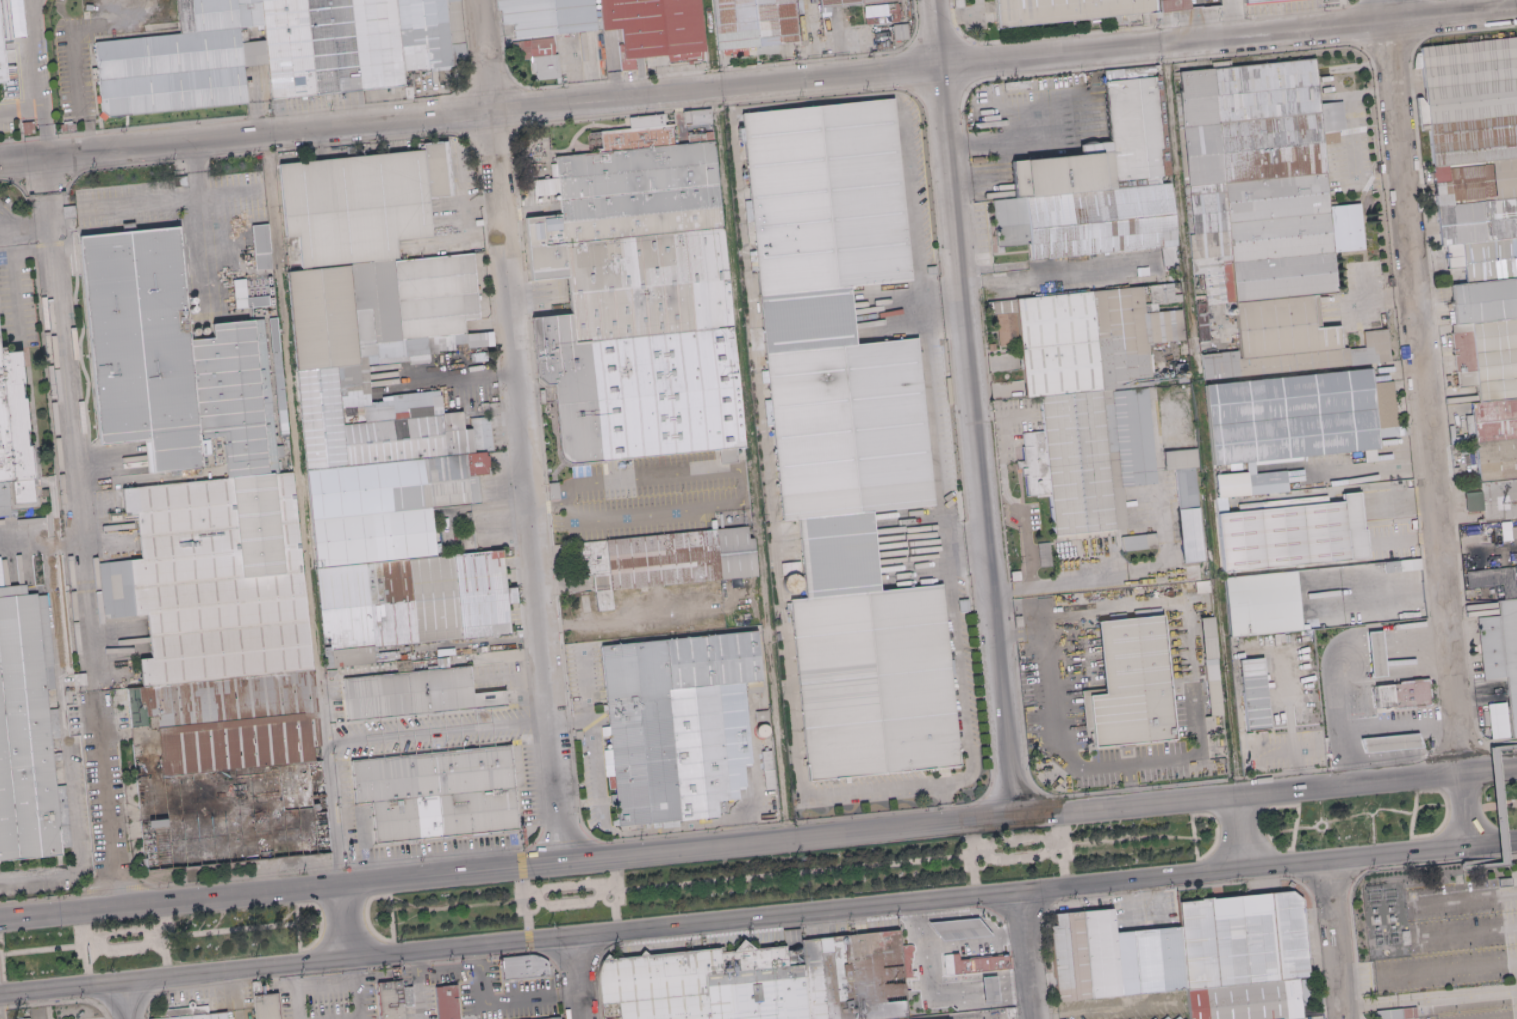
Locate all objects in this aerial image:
gas station: (1375, 691)
power substation: (1361, 920)

